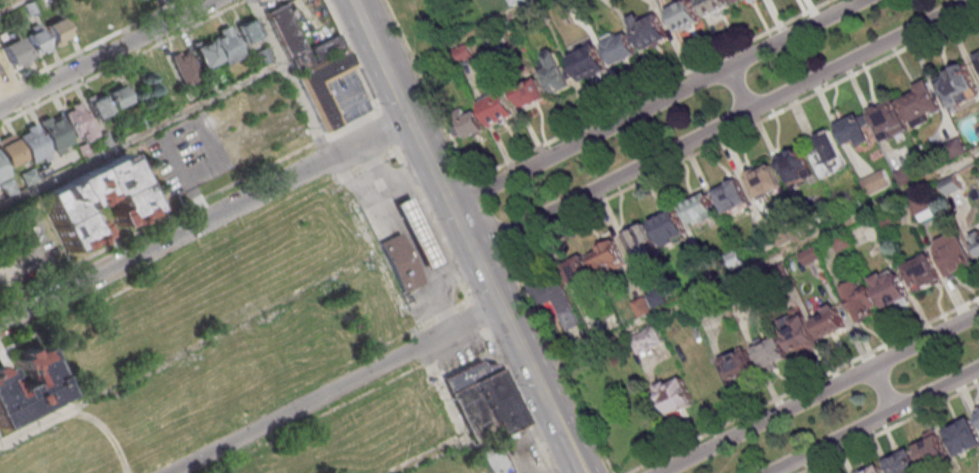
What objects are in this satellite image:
building: (737, 1)
building: (125, 3)
road: (11, 5)
building: (715, 6)
building: (683, 14)
building: (78, 19)
building: (649, 29)
building: (56, 30)
building: (245, 33)
road: (460, 36)
building: (36, 40)
road: (92, 46)
building: (619, 47)
building: (14, 51)
building: (217, 51)
road: (107, 54)
road: (352, 55)
building: (977, 57)
building: (588, 61)
road: (125, 62)
building: (313, 64)
building: (2, 68)
building: (185, 69)
building: (554, 72)
building: (954, 84)
road: (736, 89)
road: (428, 90)
road: (653, 90)
building: (529, 92)
building: (116, 96)
road: (402, 102)
road: (654, 102)
building: (920, 102)
building: (97, 106)
building: (496, 106)
building: (887, 119)
building: (78, 121)
road: (720, 124)
building: (468, 125)
road: (387, 129)
building: (853, 130)
road: (742, 132)
building: (55, 133)
road: (141, 135)
building: (33, 143)
building: (827, 154)
building: (794, 165)
building: (2, 170)
building: (763, 180)
building: (875, 180)
building: (950, 184)
building: (730, 195)
building: (94, 199)
building: (699, 209)
building: (921, 209)
road: (489, 216)
road: (205, 220)
road: (433, 225)
road: (462, 227)
building: (418, 231)
building: (656, 233)
road: (368, 236)
building: (976, 238)
building: (953, 253)
building: (606, 256)
building: (401, 262)
road: (757, 268)
building: (921, 272)
building: (579, 276)
building: (890, 288)
building: (551, 294)
building: (859, 298)
road: (477, 316)
building: (828, 321)
building: (798, 336)
building: (646, 340)
building: (769, 352)
road: (526, 361)
road: (559, 362)
building: (736, 365)
building: (706, 383)
road: (803, 384)
building: (28, 386)
road: (879, 388)
road: (334, 389)
road: (817, 392)
building: (676, 396)
road: (519, 401)
building: (487, 403)
building: (978, 412)
road: (873, 419)
road: (45, 422)
road: (888, 428)
building: (962, 436)
building: (930, 447)
road: (431, 455)
building: (494, 460)
building: (901, 462)
building: (872, 469)

